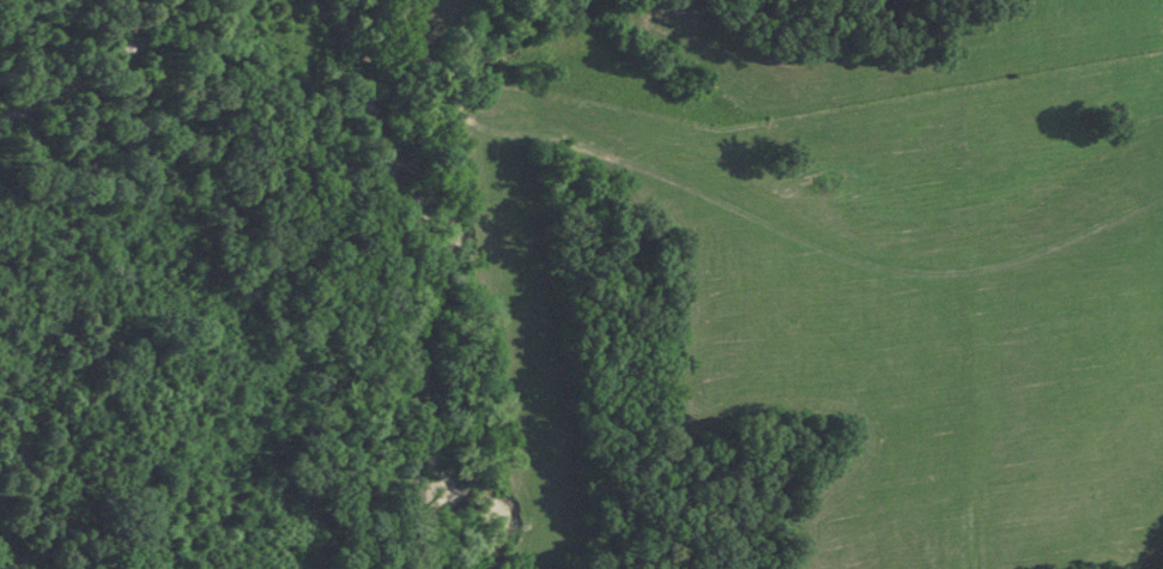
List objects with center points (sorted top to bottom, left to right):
building: (123, 43)

